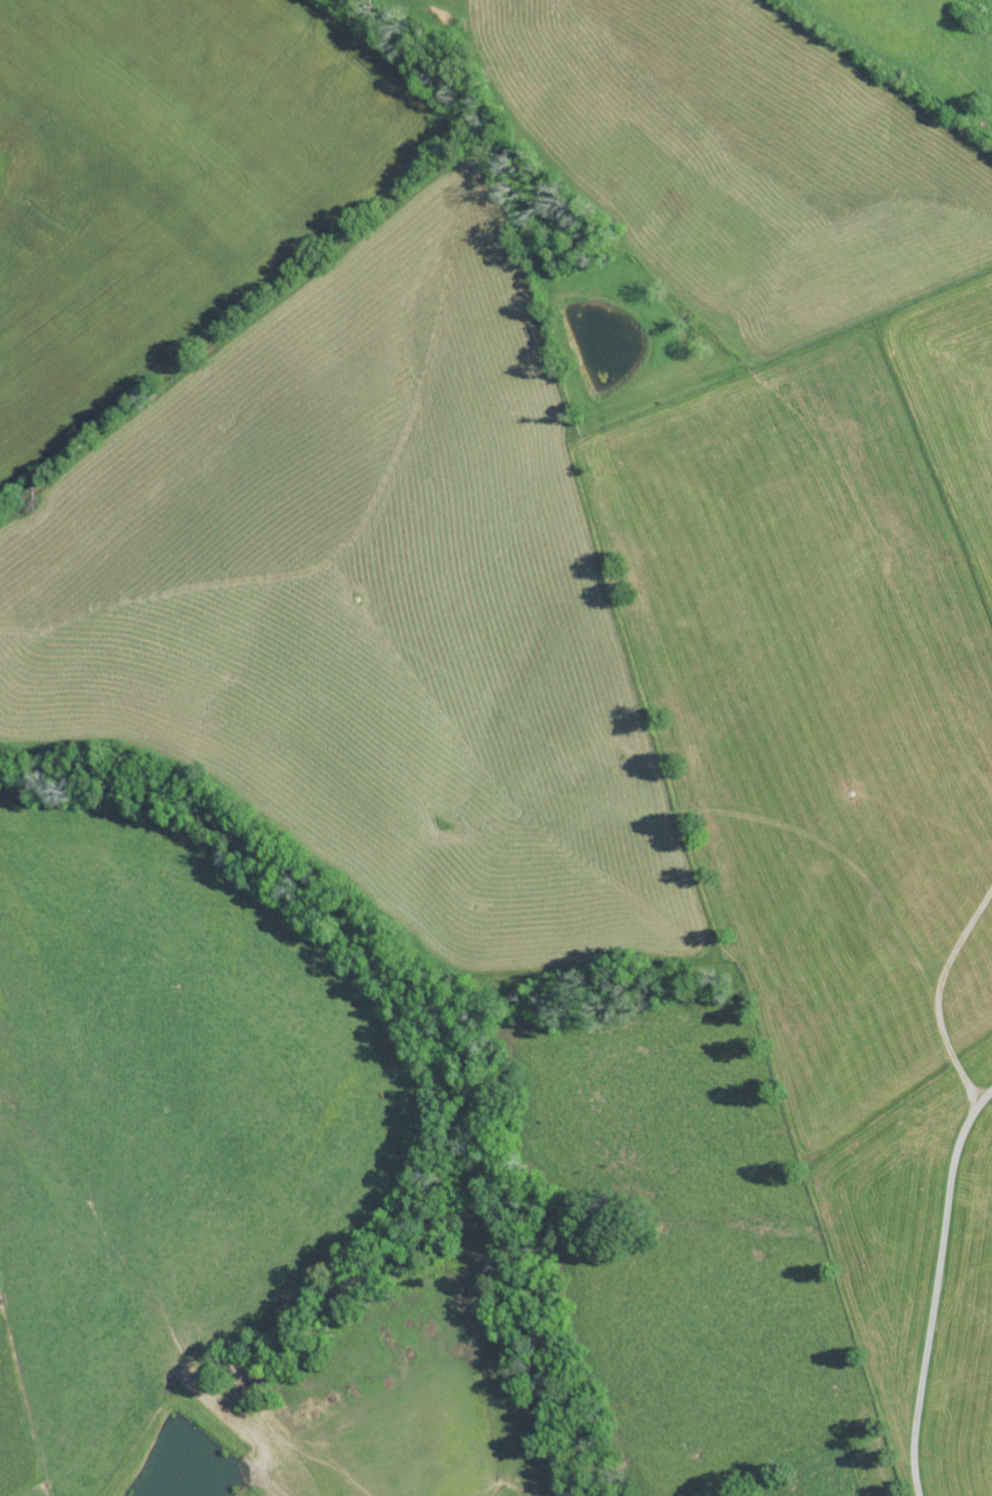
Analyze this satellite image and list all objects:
road: (938, 995)
road: (939, 1290)

